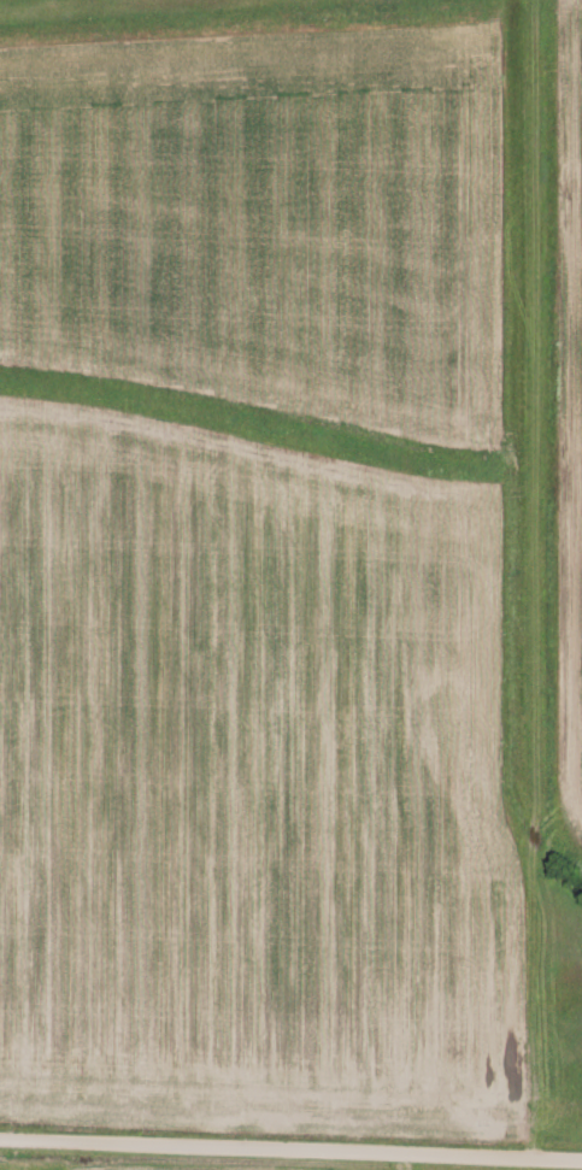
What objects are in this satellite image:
road: (290, 1148)

